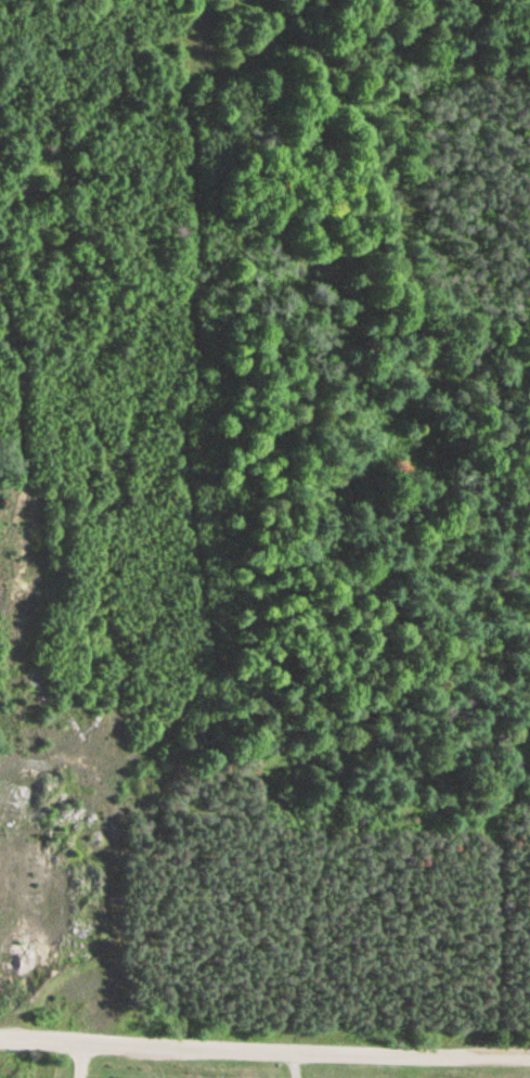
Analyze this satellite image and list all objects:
road: (264, 1042)

